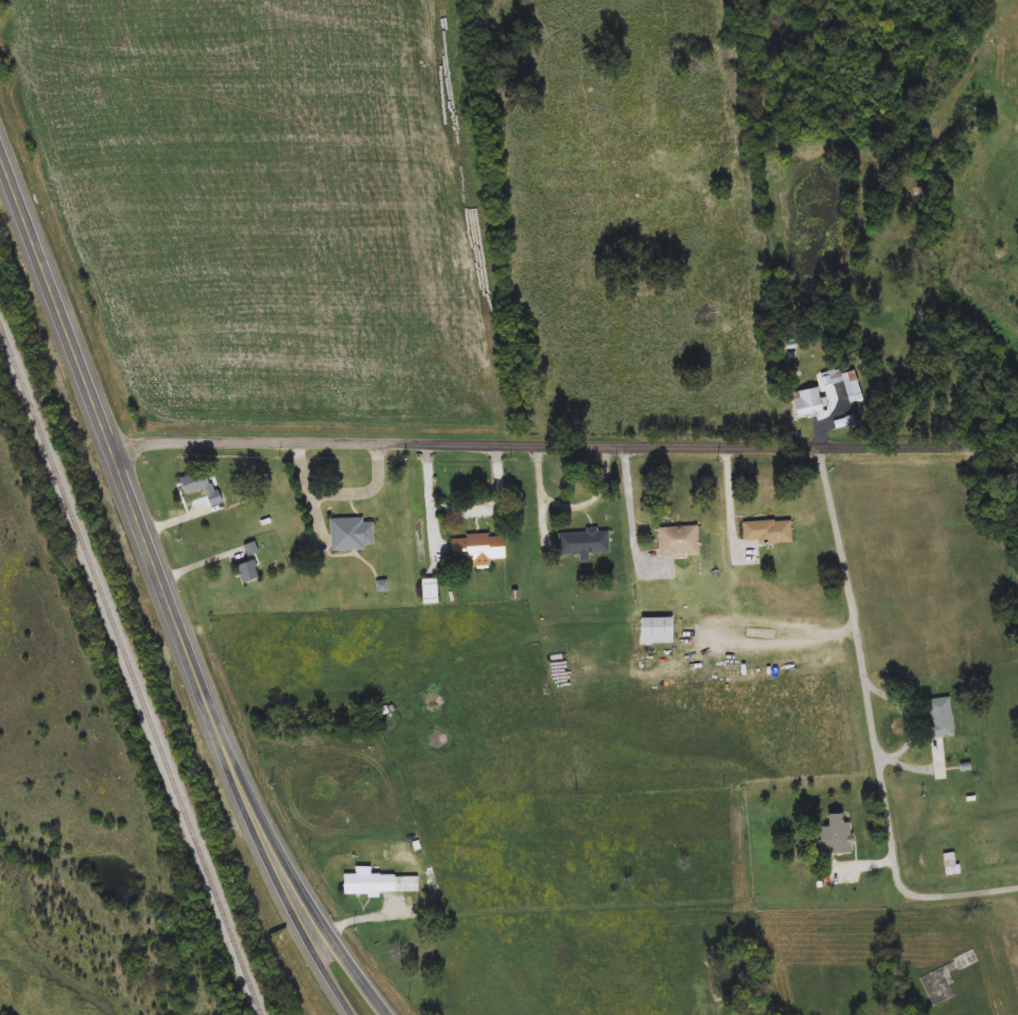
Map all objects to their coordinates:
building: (852, 385)
building: (811, 402)
road: (106, 434)
road: (564, 444)
building: (204, 488)
road: (541, 491)
road: (595, 500)
road: (631, 500)
road: (430, 501)
road: (494, 505)
building: (768, 532)
building: (353, 534)
building: (680, 541)
building: (585, 543)
building: (252, 548)
building: (478, 549)
building: (250, 571)
building: (659, 630)
railway: (131, 666)
building: (942, 718)
road: (874, 724)
building: (838, 836)
building: (952, 864)
road: (270, 872)
road: (291, 872)
building: (383, 884)
building: (945, 979)

